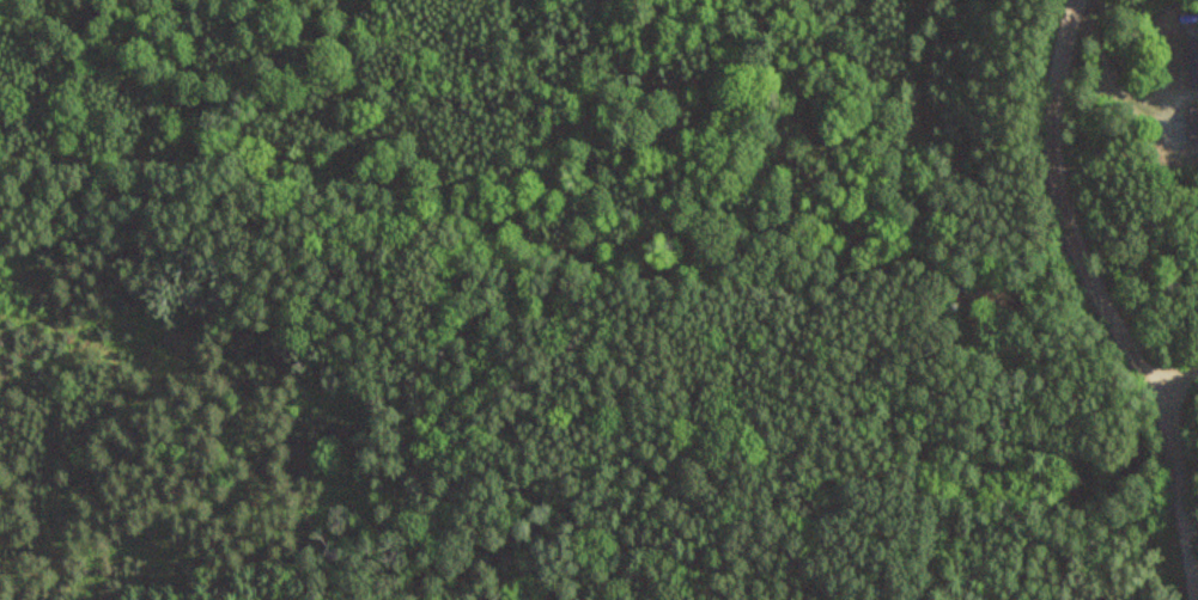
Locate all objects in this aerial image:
building: (1193, 59)
building: (1193, 121)
road: (795, 165)
road: (1105, 302)
road: (1179, 380)

